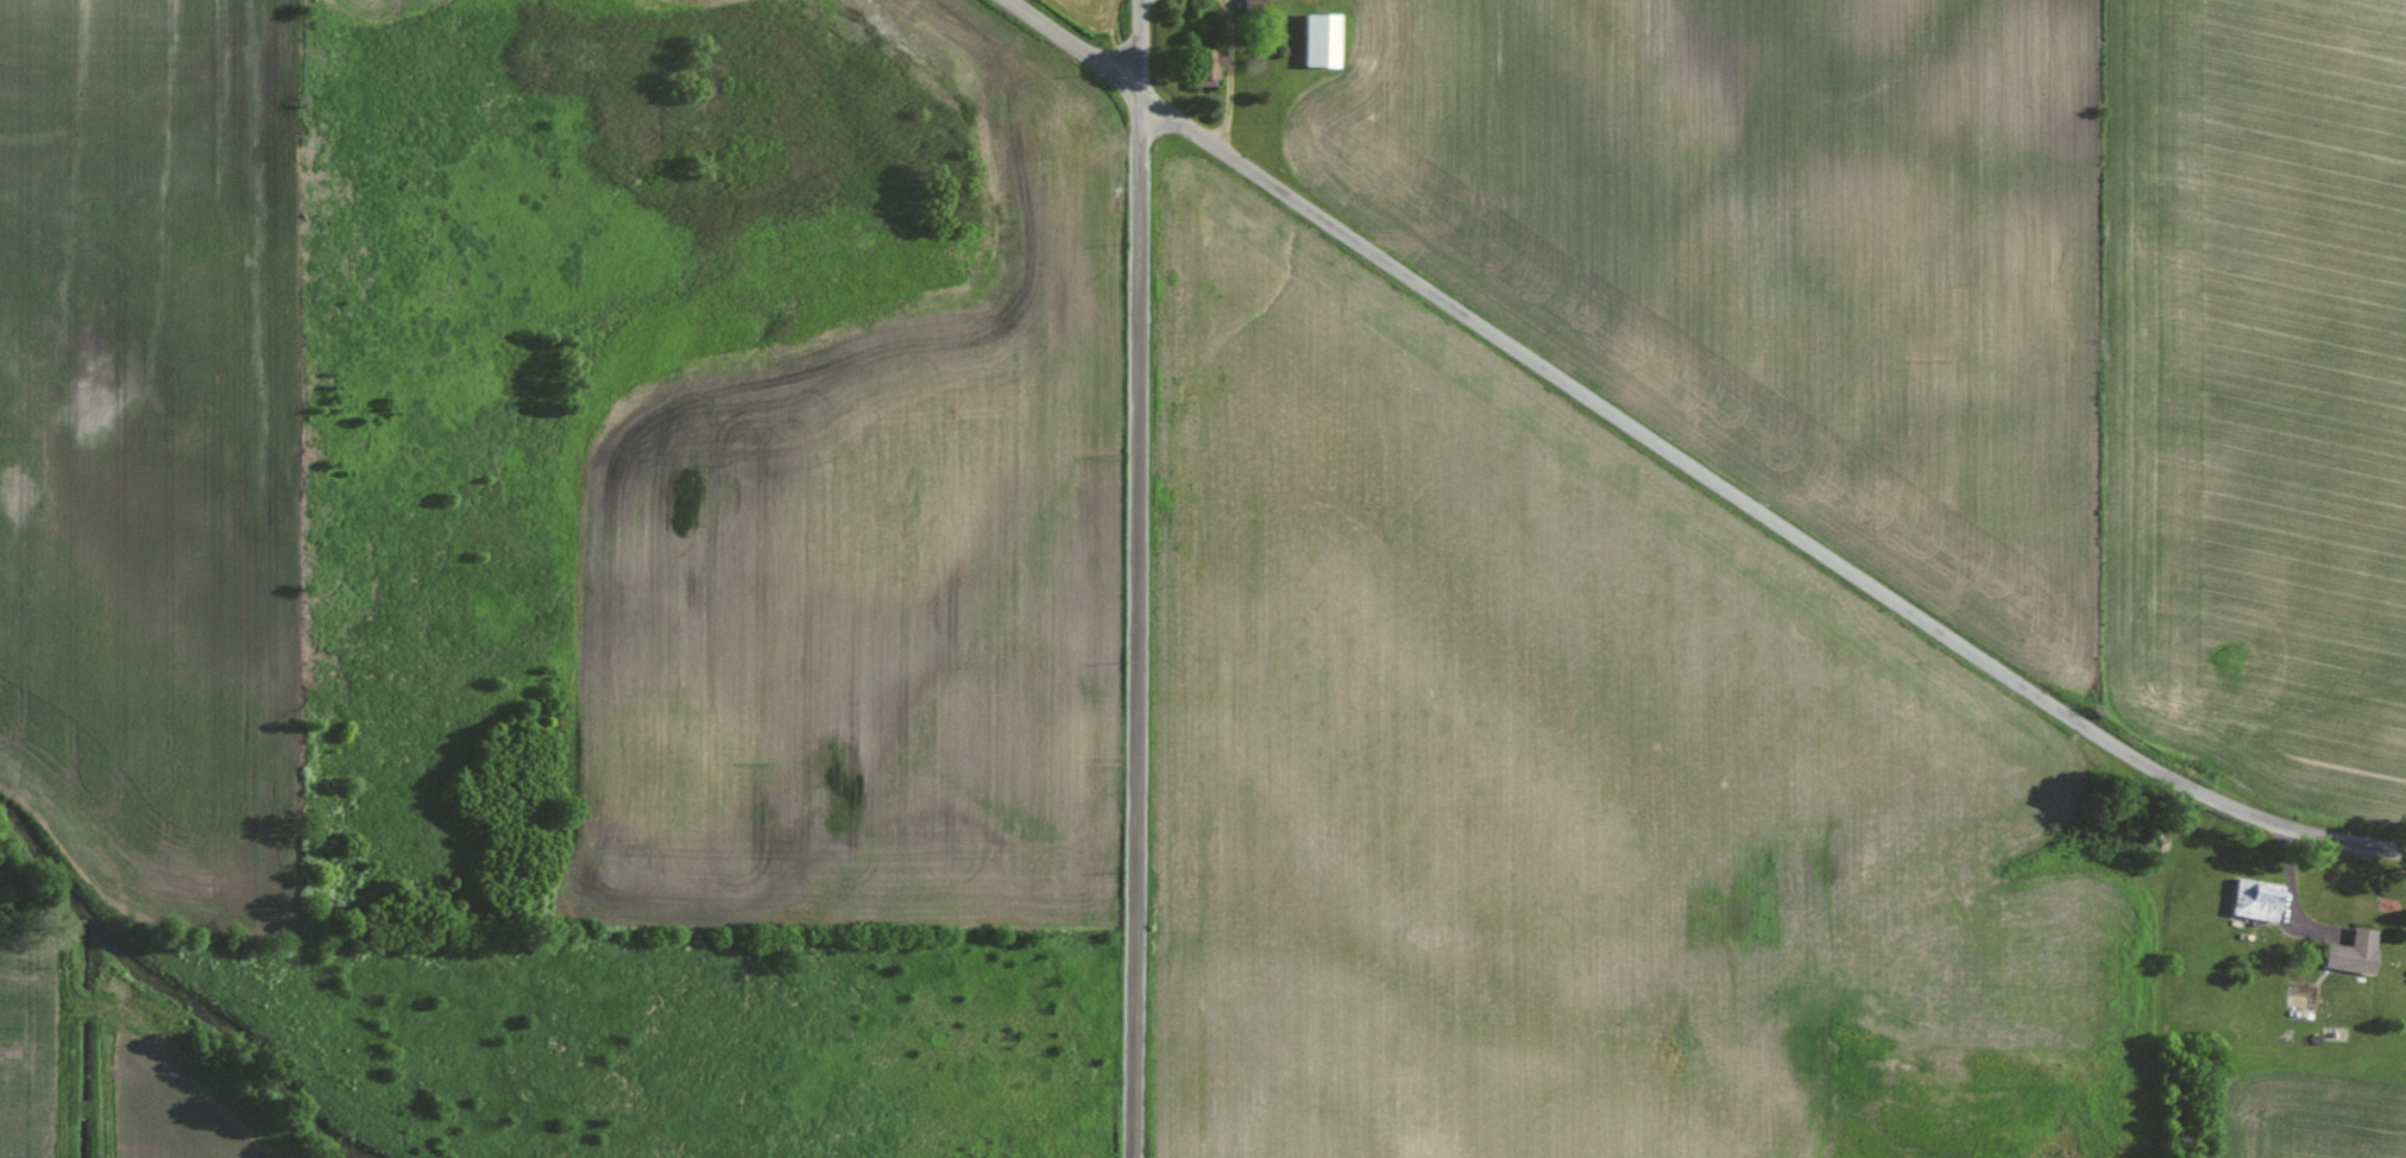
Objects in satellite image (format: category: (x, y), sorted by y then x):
road: (1141, 34)
building: (1325, 38)
road: (1078, 39)
building: (1214, 67)
road: (1222, 69)
road: (1144, 89)
road: (1761, 508)
road: (1139, 633)

